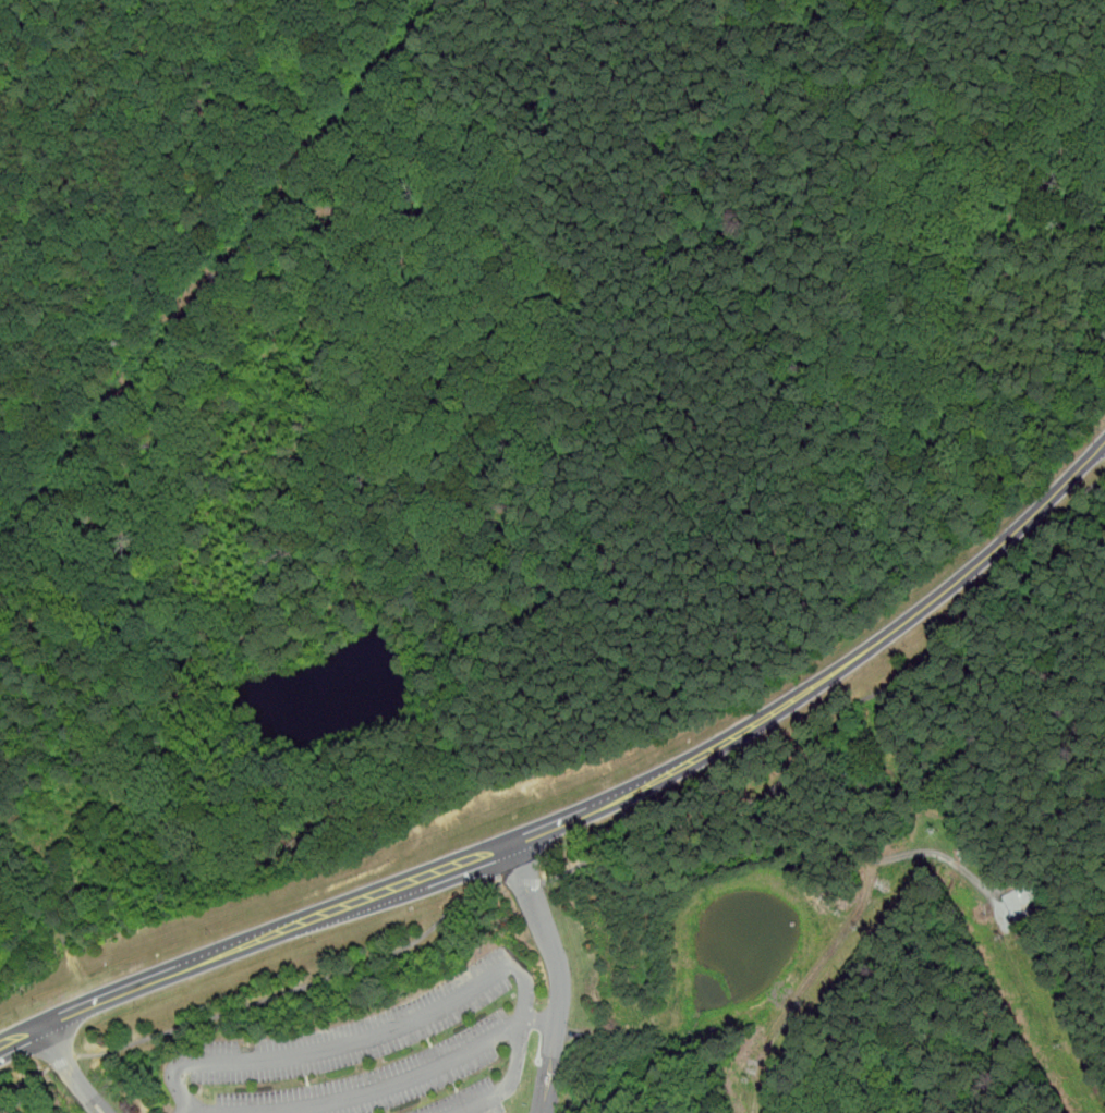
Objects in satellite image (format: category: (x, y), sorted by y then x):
road: (1090, 515)
road: (1018, 579)
road: (914, 614)
road: (774, 786)
road: (523, 881)
road: (350, 902)
road: (61, 928)
road: (560, 973)
road: (297, 987)
road: (541, 1018)
road: (418, 1019)
road: (64, 1061)
road: (69, 1071)
road: (25, 1079)
road: (396, 1083)

